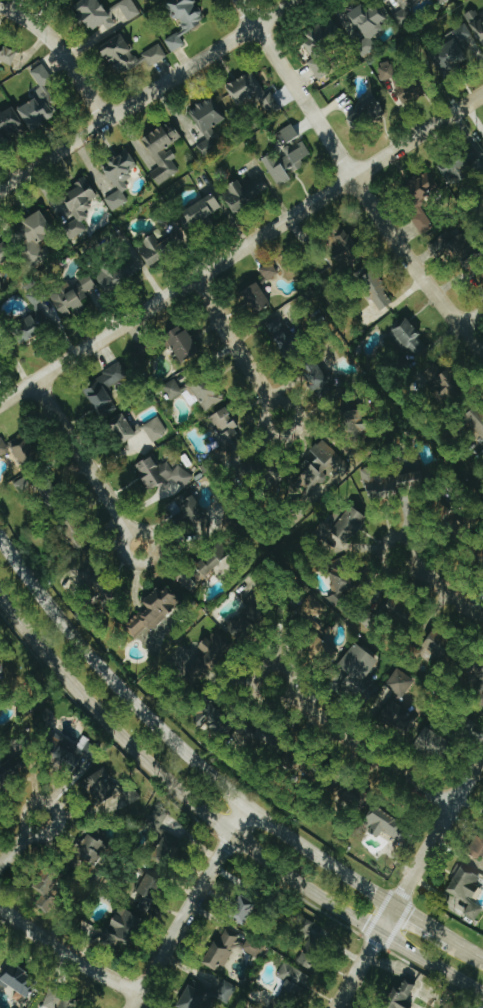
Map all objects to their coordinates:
building: (125, 11)
building: (95, 15)
building: (403, 15)
building: (185, 20)
building: (476, 23)
building: (366, 27)
building: (463, 33)
building: (322, 46)
building: (7, 55)
building: (121, 55)
building: (155, 55)
road: (61, 56)
building: (449, 57)
building: (402, 85)
building: (251, 93)
road: (149, 94)
building: (40, 102)
building: (366, 113)
building: (209, 117)
building: (10, 125)
building: (288, 135)
building: (206, 149)
building: (164, 152)
building: (287, 163)
building: (463, 169)
building: (120, 179)
road: (354, 180)
building: (423, 186)
building: (246, 193)
building: (79, 207)
building: (203, 210)
building: (422, 220)
building: (35, 236)
building: (160, 246)
building: (455, 246)
road: (242, 248)
building: (347, 249)
building: (4, 256)
building: (121, 271)
building: (269, 271)
building: (1, 273)
building: (1, 287)
building: (375, 288)
building: (73, 296)
building: (257, 299)
building: (44, 308)
road: (472, 318)
building: (29, 328)
building: (284, 334)
building: (410, 338)
building: (183, 342)
road: (245, 351)
building: (0, 355)
building: (317, 377)
building: (446, 380)
building: (173, 389)
building: (104, 390)
building: (206, 391)
building: (360, 421)
building: (476, 422)
building: (137, 429)
building: (228, 430)
building: (3, 447)
building: (26, 450)
road: (82, 455)
building: (320, 467)
building: (163, 475)
building: (24, 486)
building: (50, 496)
building: (194, 513)
building: (350, 524)
road: (127, 531)
building: (75, 533)
building: (210, 569)
building: (96, 583)
building: (342, 584)
road: (438, 587)
building: (260, 605)
building: (398, 607)
building: (156, 609)
building: (241, 626)
building: (437, 646)
building: (217, 647)
building: (321, 648)
building: (360, 669)
building: (477, 677)
building: (401, 683)
building: (206, 714)
building: (397, 714)
road: (177, 742)
building: (435, 743)
road: (358, 748)
building: (71, 753)
building: (8, 774)
building: (102, 786)
building: (351, 794)
road: (53, 810)
building: (156, 822)
building: (385, 824)
road: (218, 825)
building: (479, 847)
road: (13, 849)
building: (93, 851)
building: (167, 851)
road: (410, 879)
building: (151, 886)
building: (49, 888)
building: (466, 889)
road: (188, 906)
building: (244, 910)
road: (427, 924)
building: (123, 928)
building: (313, 945)
building: (254, 946)
building: (222, 950)
road: (470, 950)
road: (67, 956)
building: (20, 982)
building: (293, 987)
building: (226, 992)
building: (402, 995)
building: (194, 997)
building: (64, 1000)

